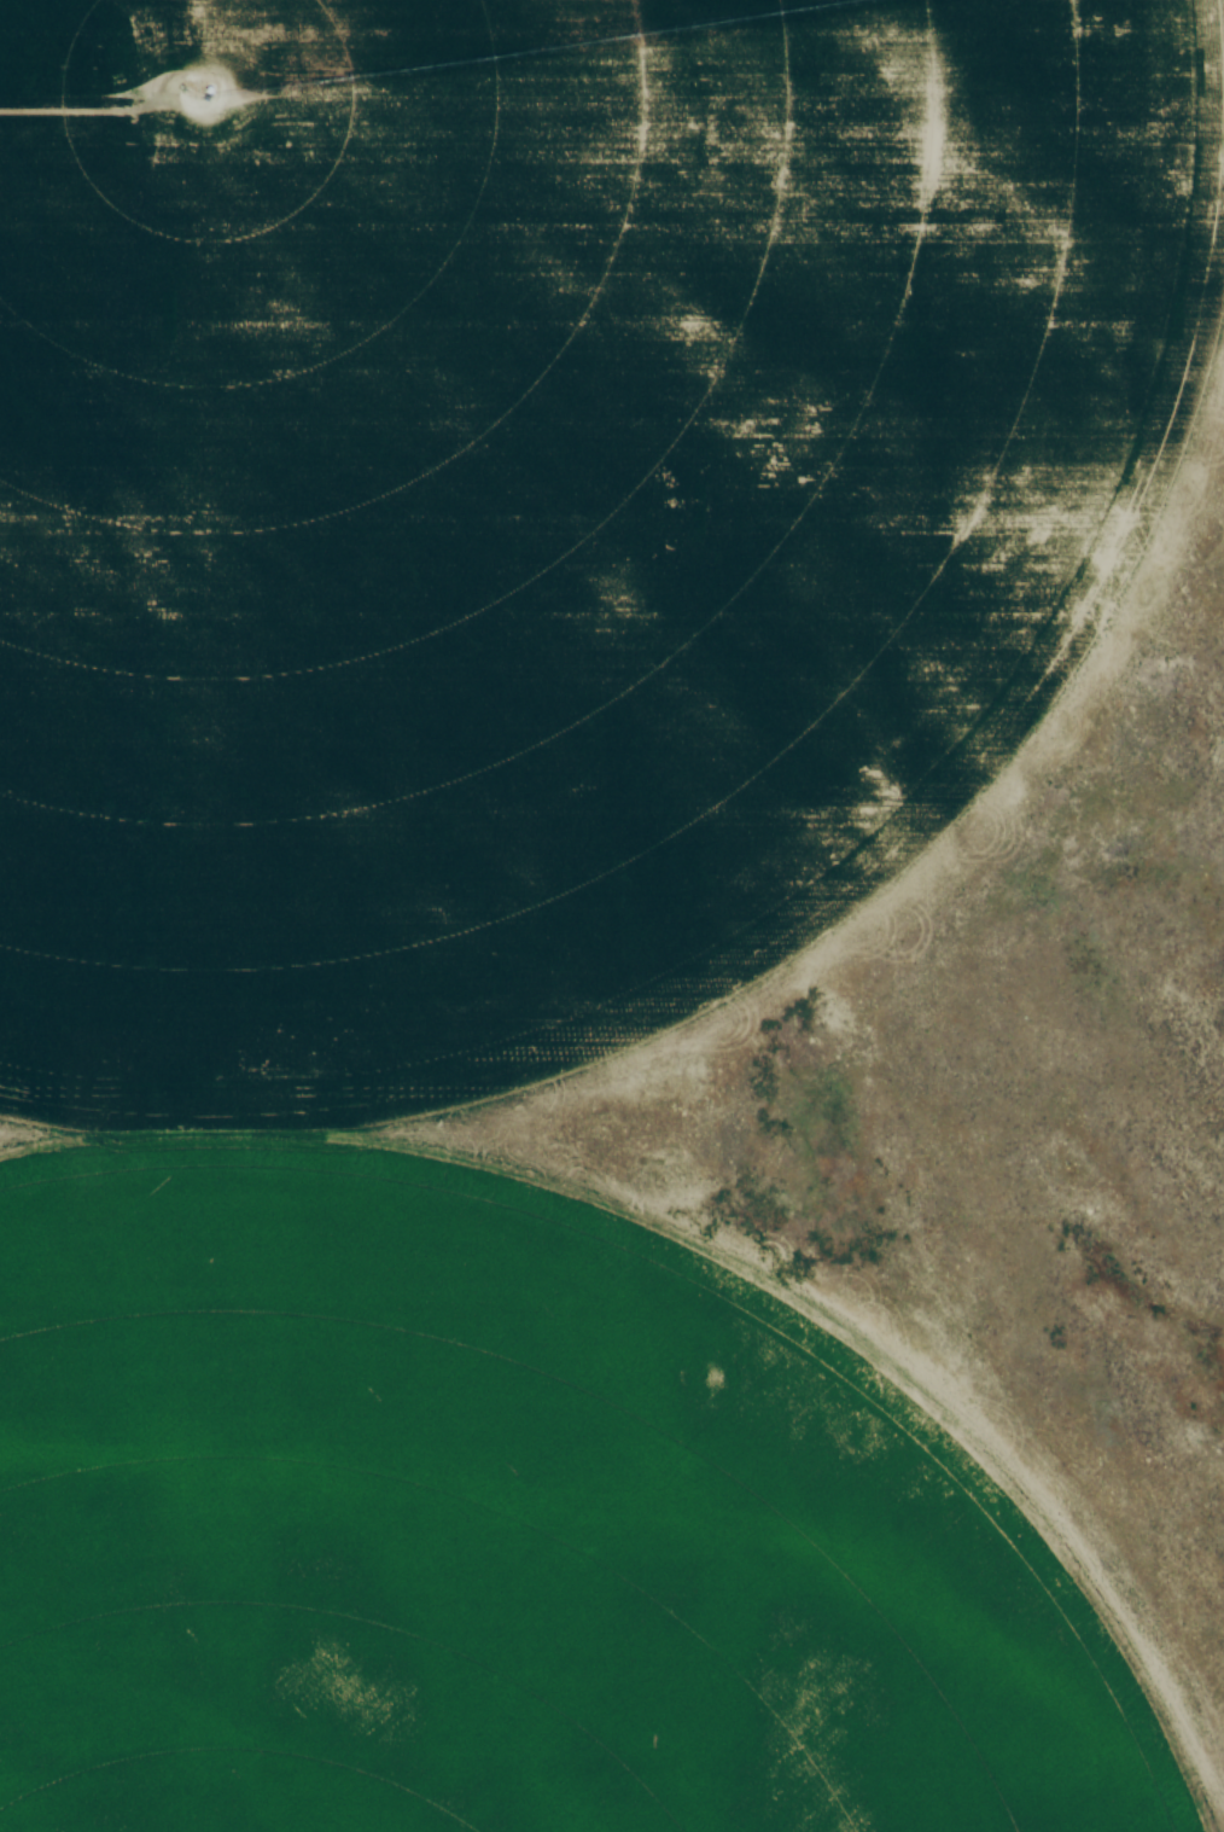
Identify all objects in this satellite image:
crop: (542, 499)
crop: (502, 1528)

